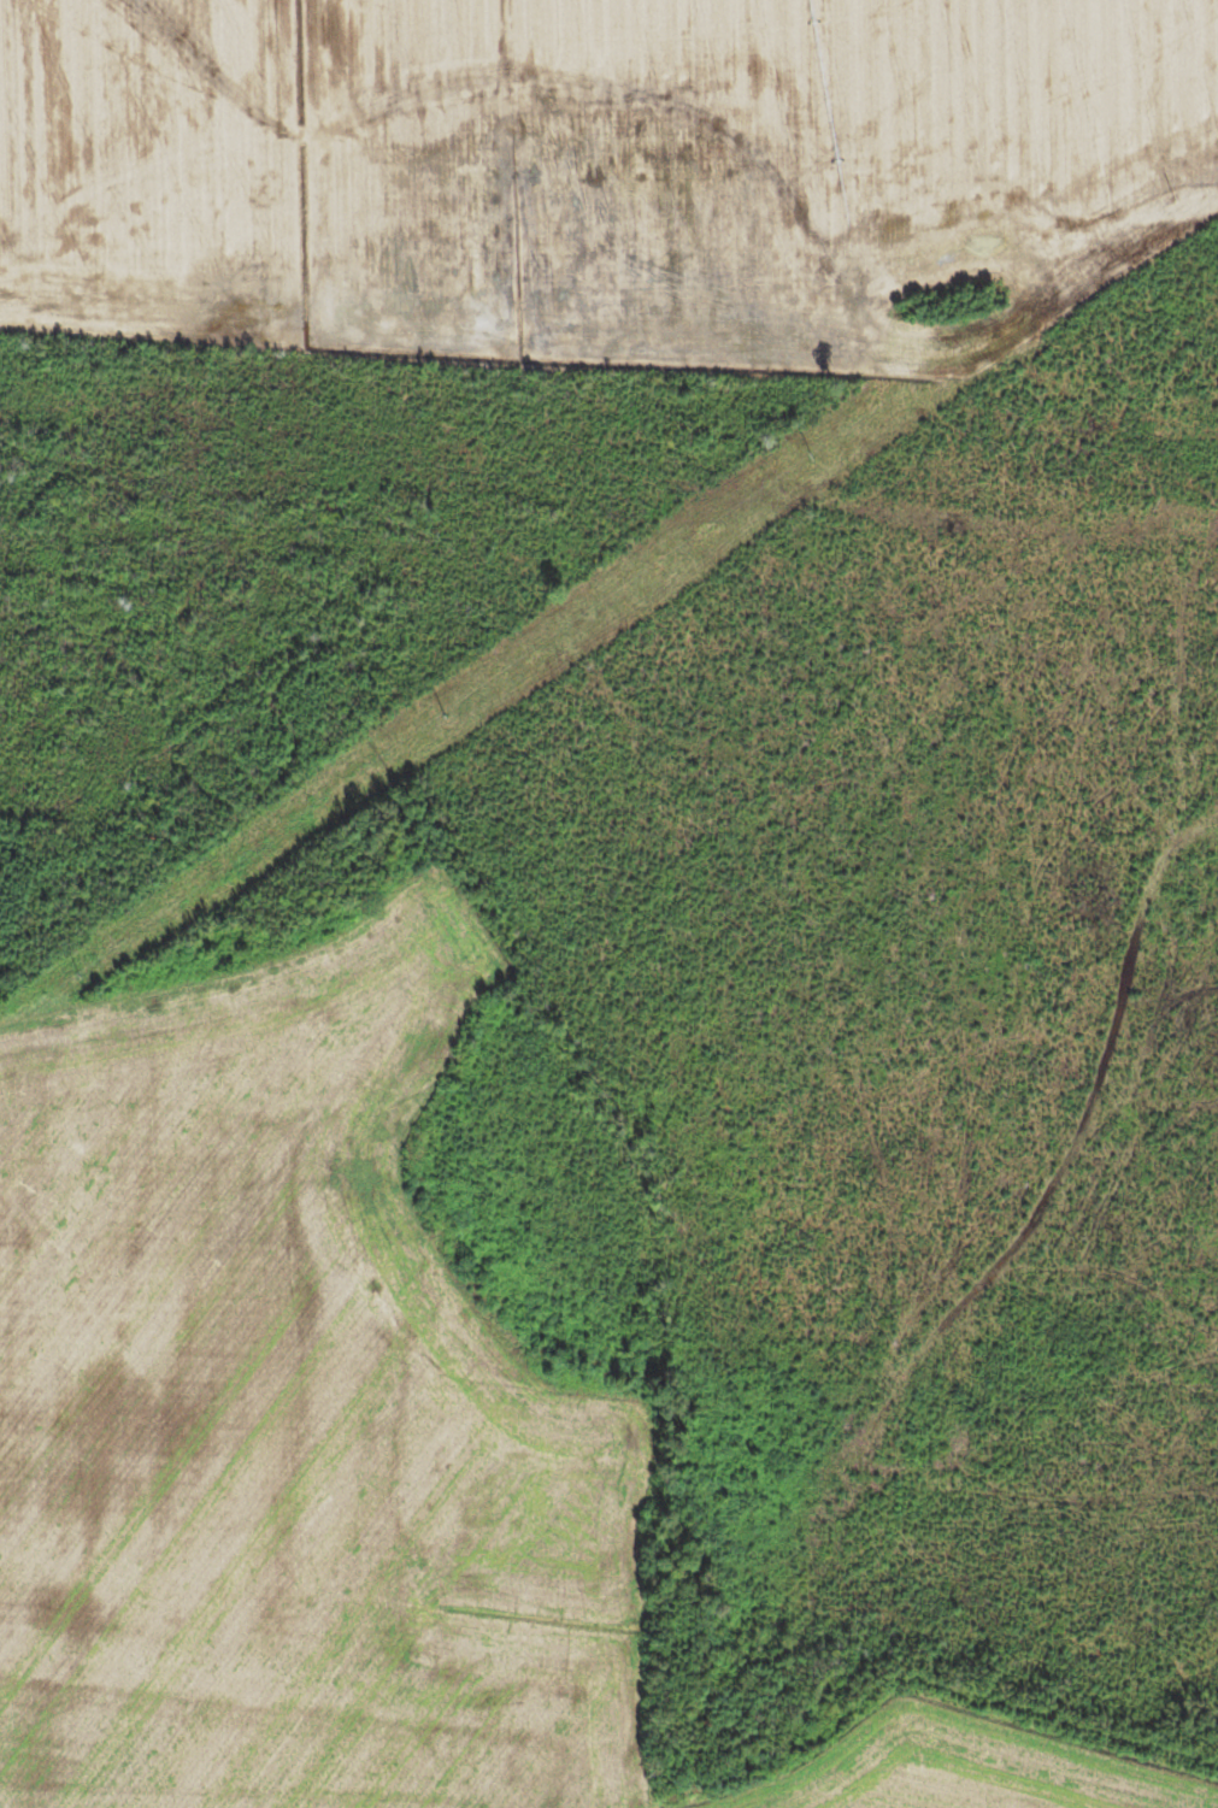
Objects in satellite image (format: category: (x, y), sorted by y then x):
road: (211, 1674)

